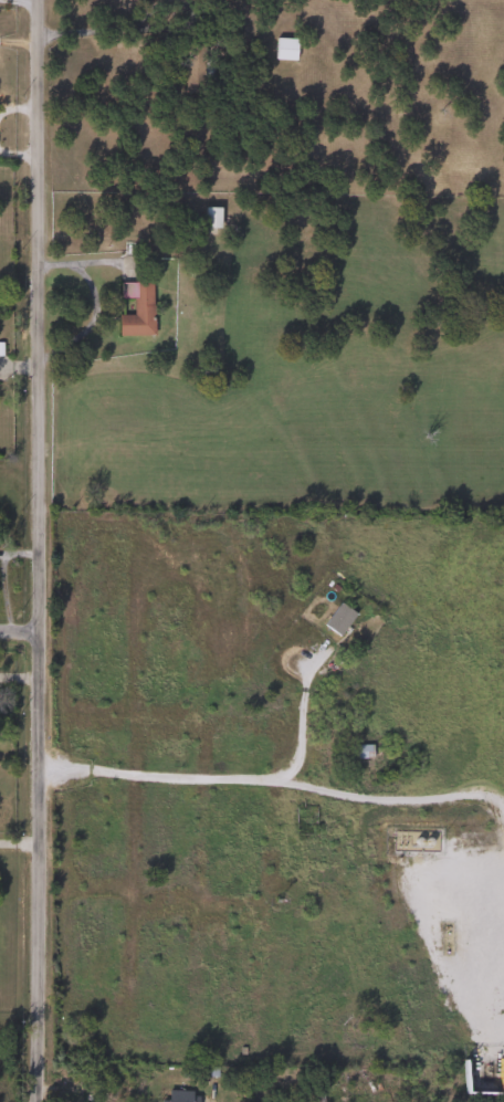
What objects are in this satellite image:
road: (157, 28)
building: (283, 49)
building: (210, 218)
building: (135, 308)
road: (38, 550)
road: (19, 552)
road: (1, 595)
building: (337, 619)
road: (18, 639)
road: (18, 676)
road: (300, 713)
building: (359, 752)
road: (156, 775)
road: (400, 799)
road: (19, 843)
building: (177, 1095)

